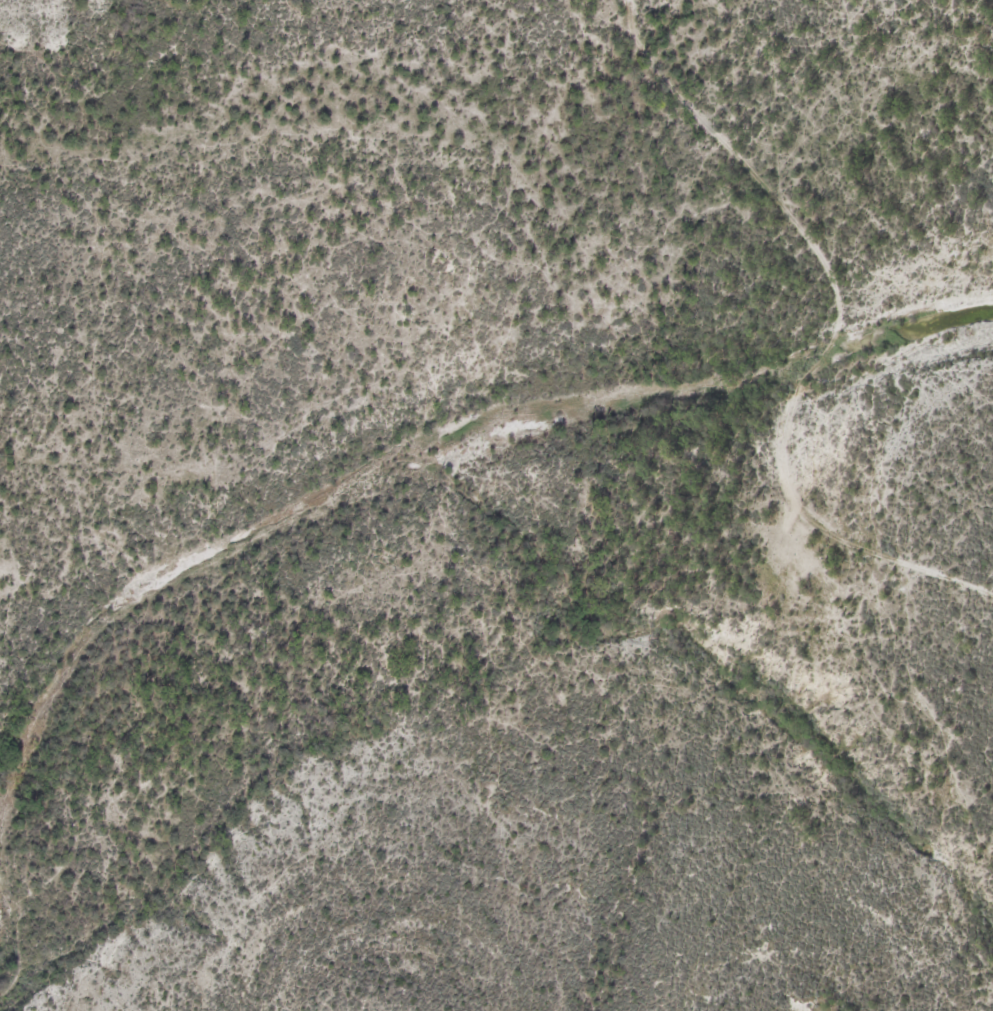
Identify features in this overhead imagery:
road: (637, 8)
road: (837, 333)

